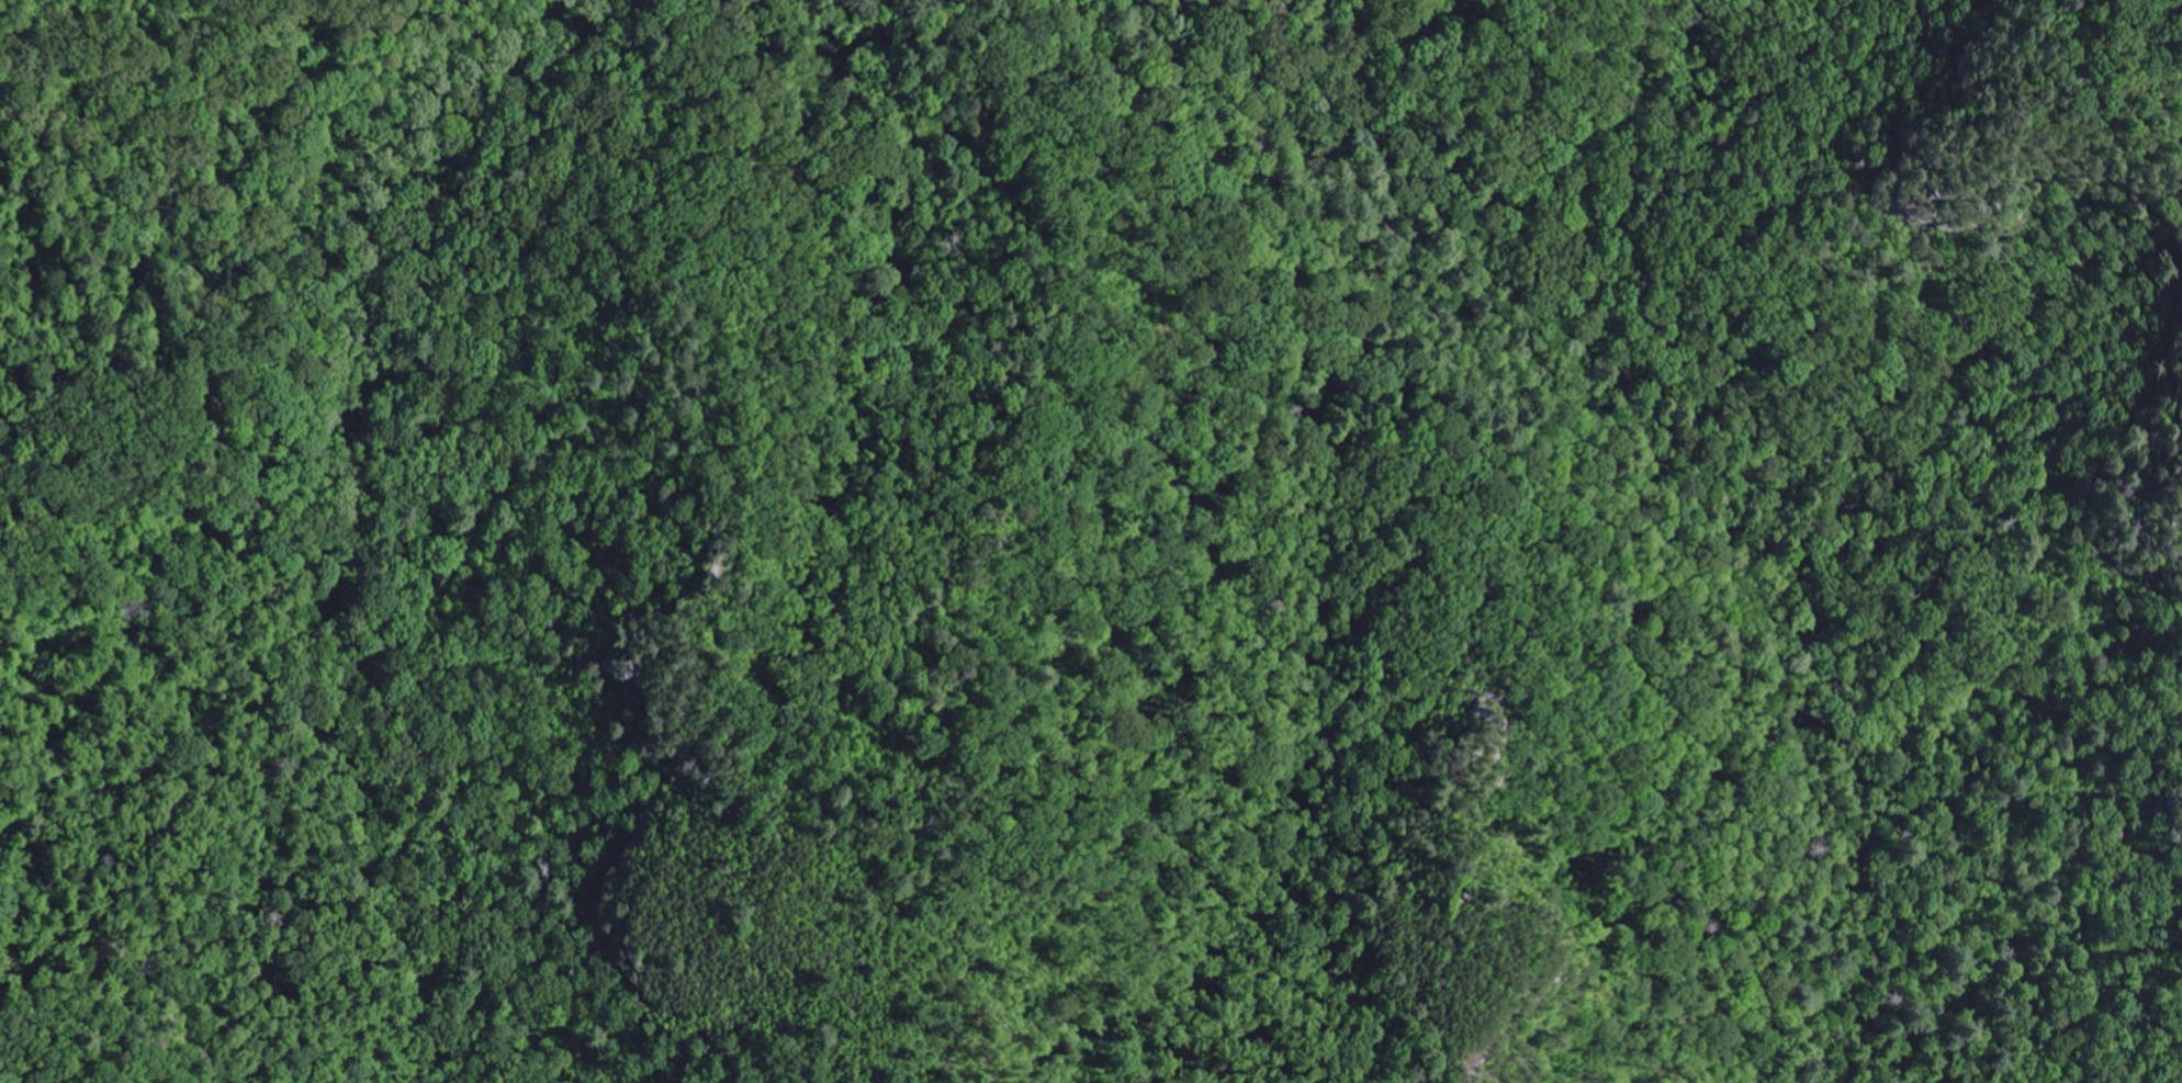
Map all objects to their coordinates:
road: (1724, 534)
road: (1820, 922)
road: (889, 972)

